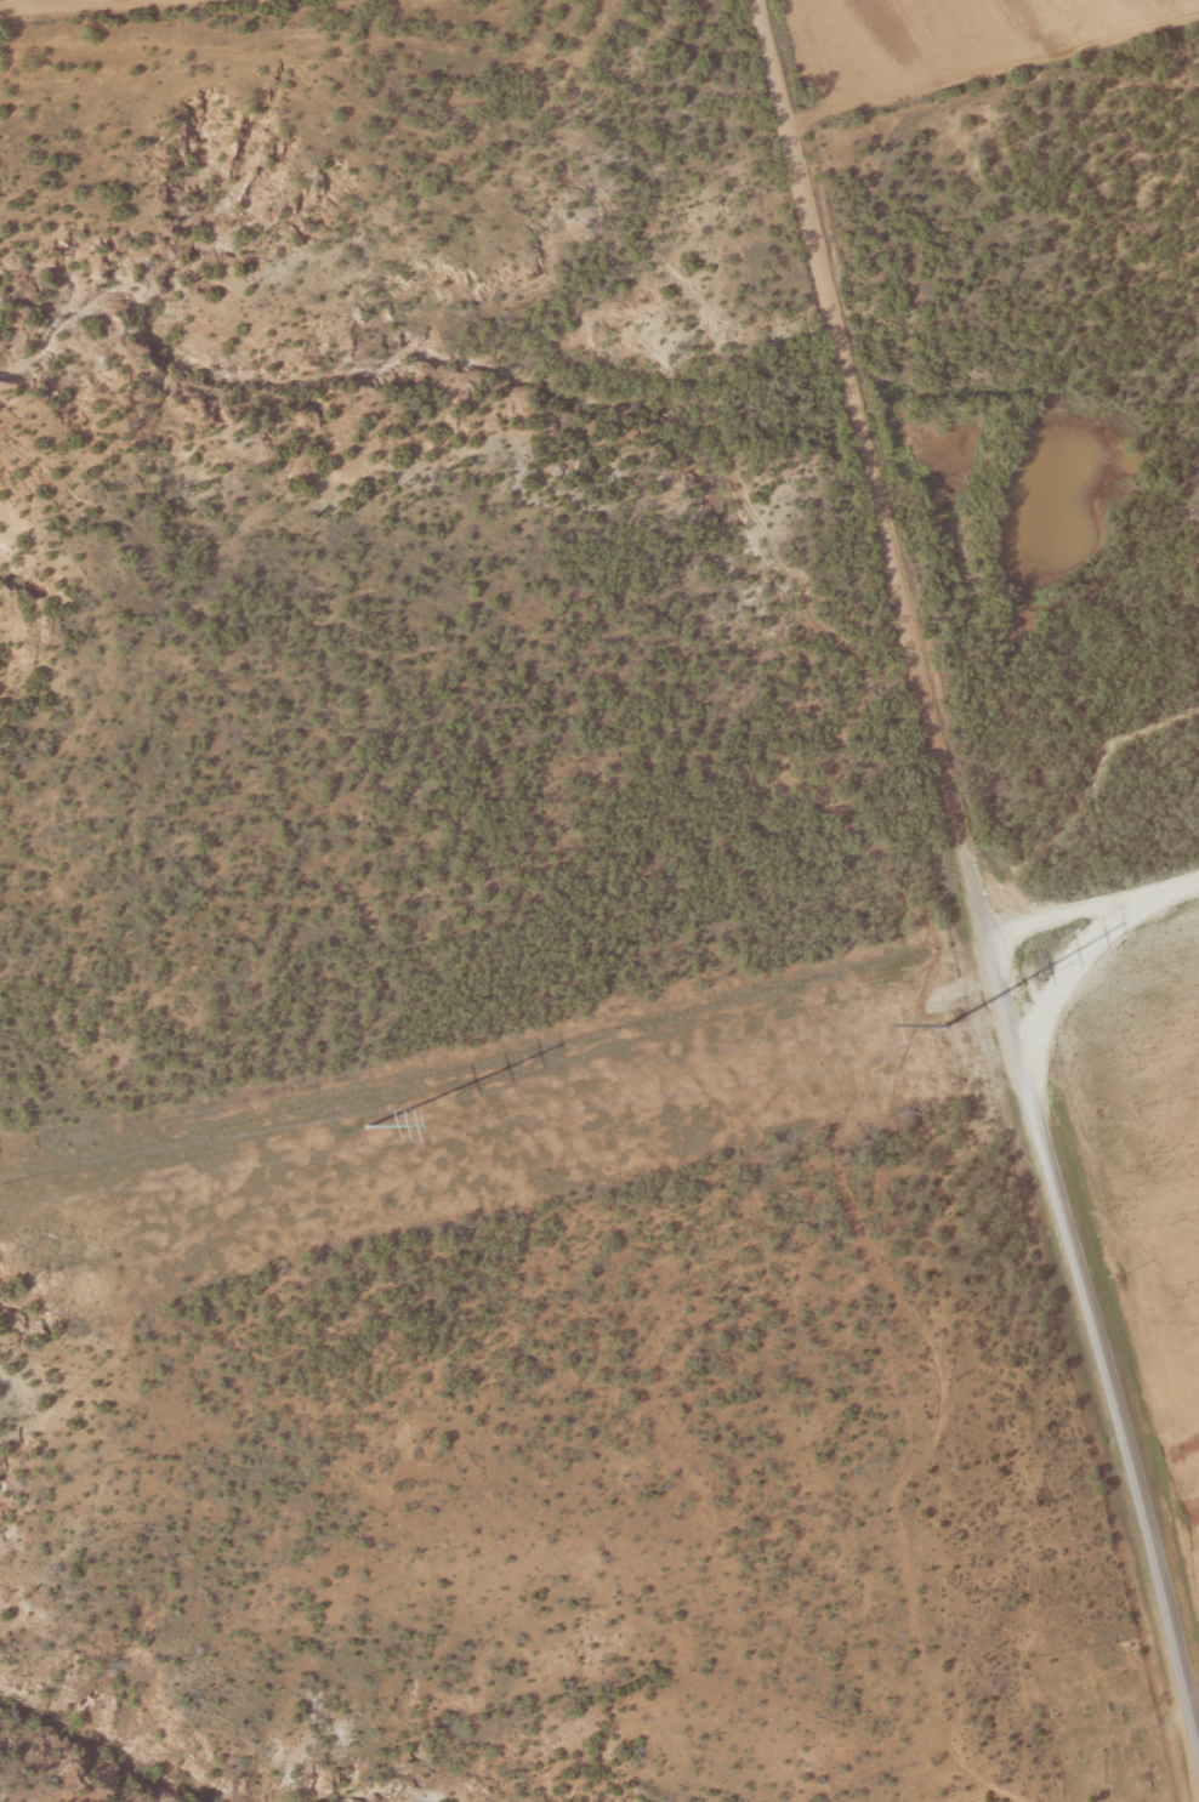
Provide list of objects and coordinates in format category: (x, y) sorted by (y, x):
road: (749, 92)
road: (987, 101)
road: (859, 564)
road: (1090, 910)
power tower: (944, 1025)
power tower: (370, 1126)
road: (1097, 1342)
park: (1106, 1738)

